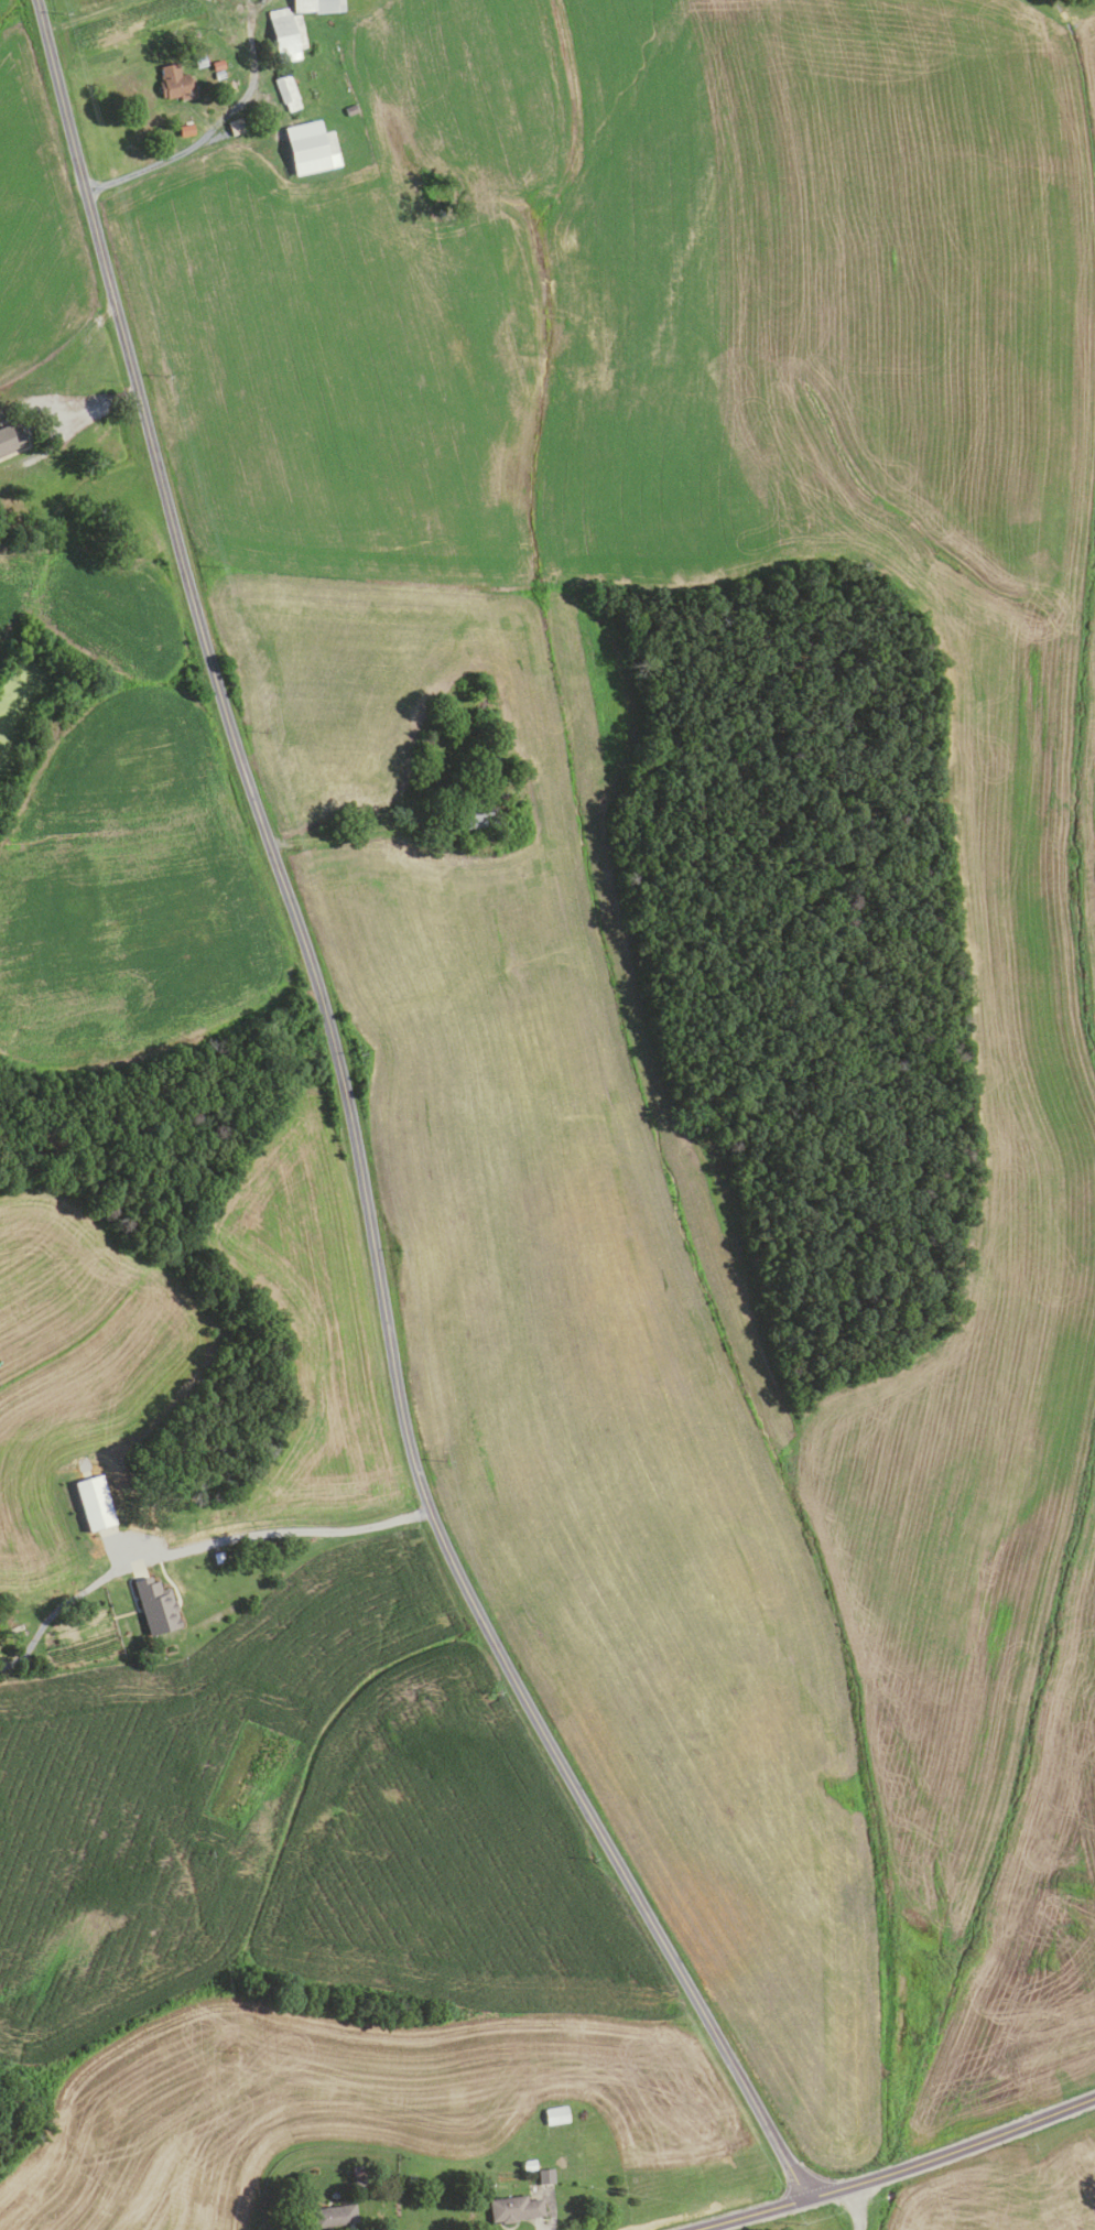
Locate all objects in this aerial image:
building: (317, 6)
road: (85, 14)
building: (286, 34)
building: (199, 62)
building: (217, 64)
building: (218, 74)
building: (174, 83)
building: (286, 91)
building: (350, 109)
road: (217, 125)
building: (236, 127)
building: (185, 129)
building: (310, 147)
road: (85, 411)
building: (0, 413)
building: (9, 437)
building: (425, 751)
building: (475, 813)
road: (355, 834)
road: (353, 1130)
crop: (313, 1320)
crop: (77, 1366)
building: (94, 1505)
road: (293, 1527)
building: (218, 1558)
building: (155, 1607)
crop: (300, 1822)
crop: (346, 2102)
building: (555, 2115)
building: (529, 2164)
road: (896, 2172)
building: (545, 2175)
building: (360, 2183)
road: (855, 2208)
building: (513, 2209)
building: (335, 2217)
road: (550, 2217)
road: (696, 2229)

